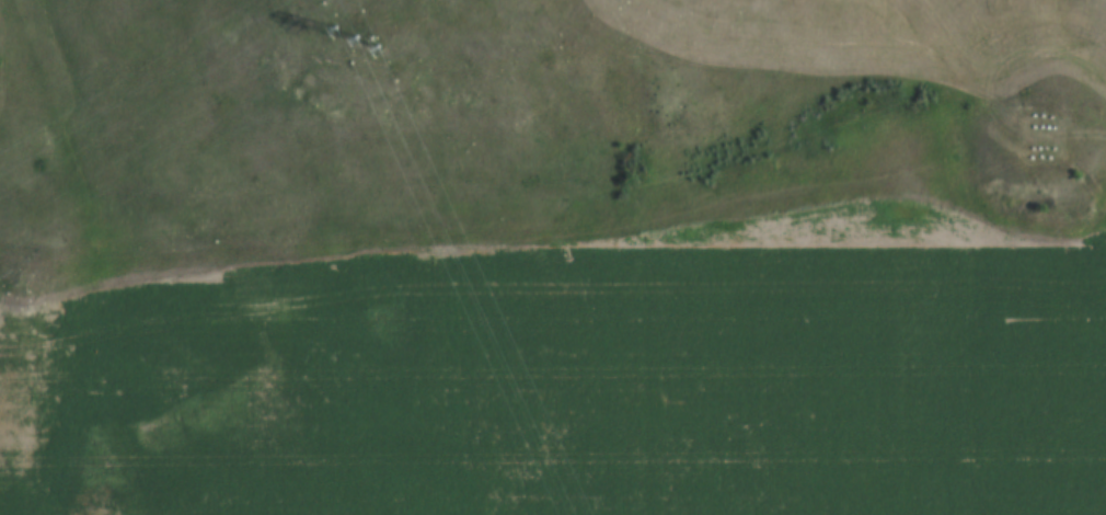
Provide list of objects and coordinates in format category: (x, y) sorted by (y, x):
power tower: (362, 48)

